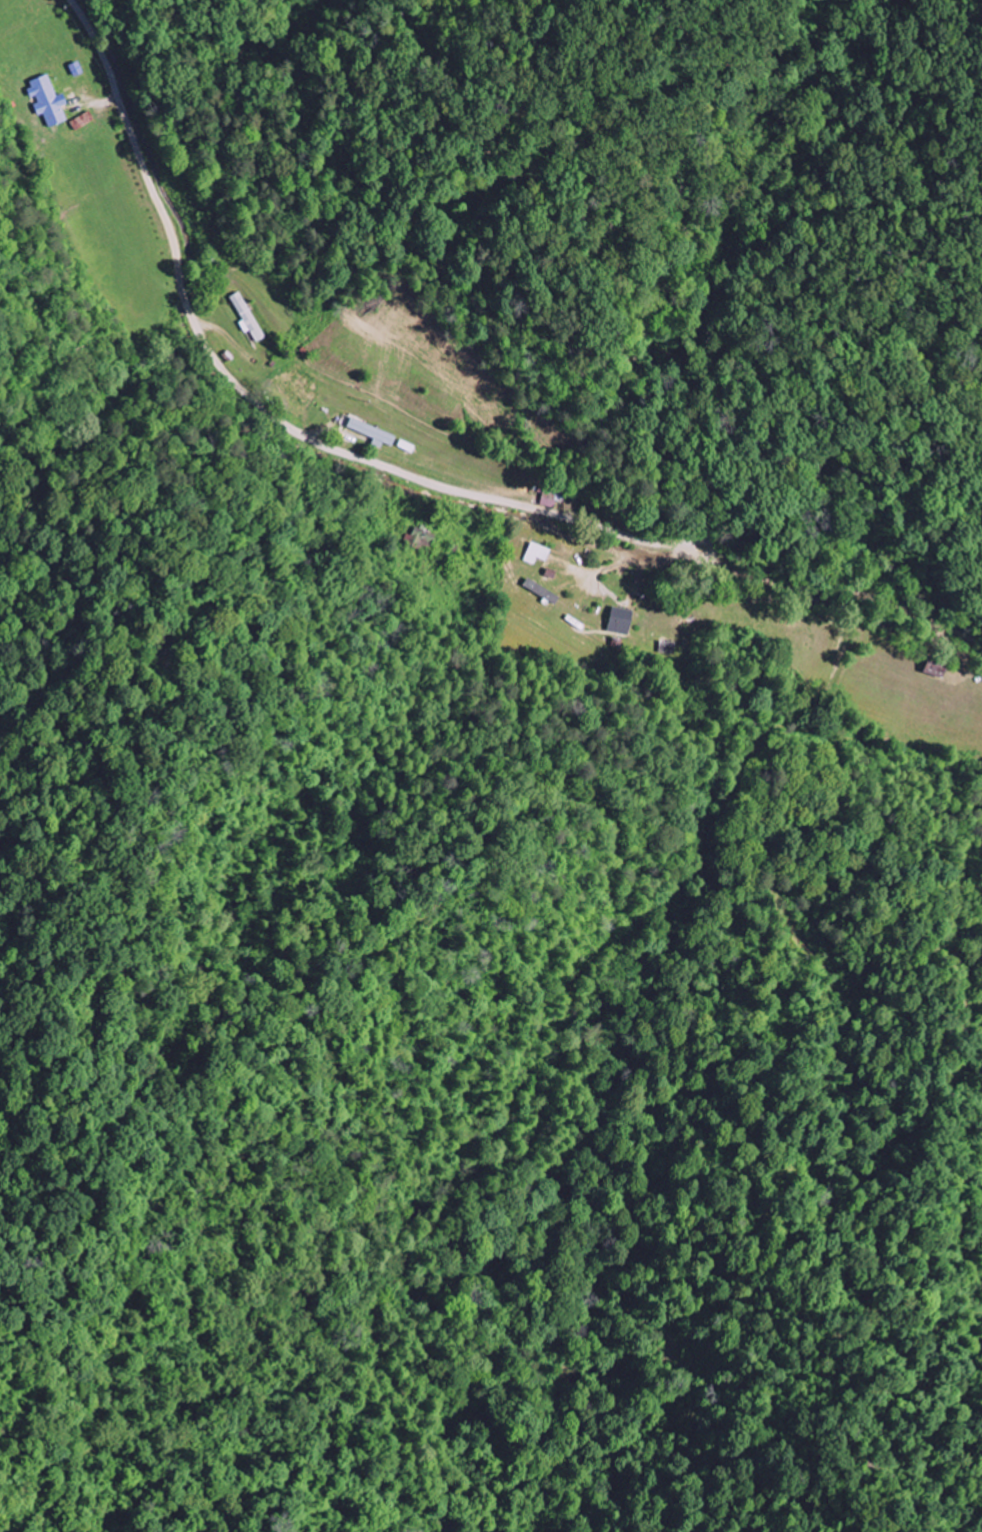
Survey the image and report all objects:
building: (48, 100)
building: (245, 315)
road: (407, 472)
building: (536, 553)
building: (544, 593)
building: (619, 620)

